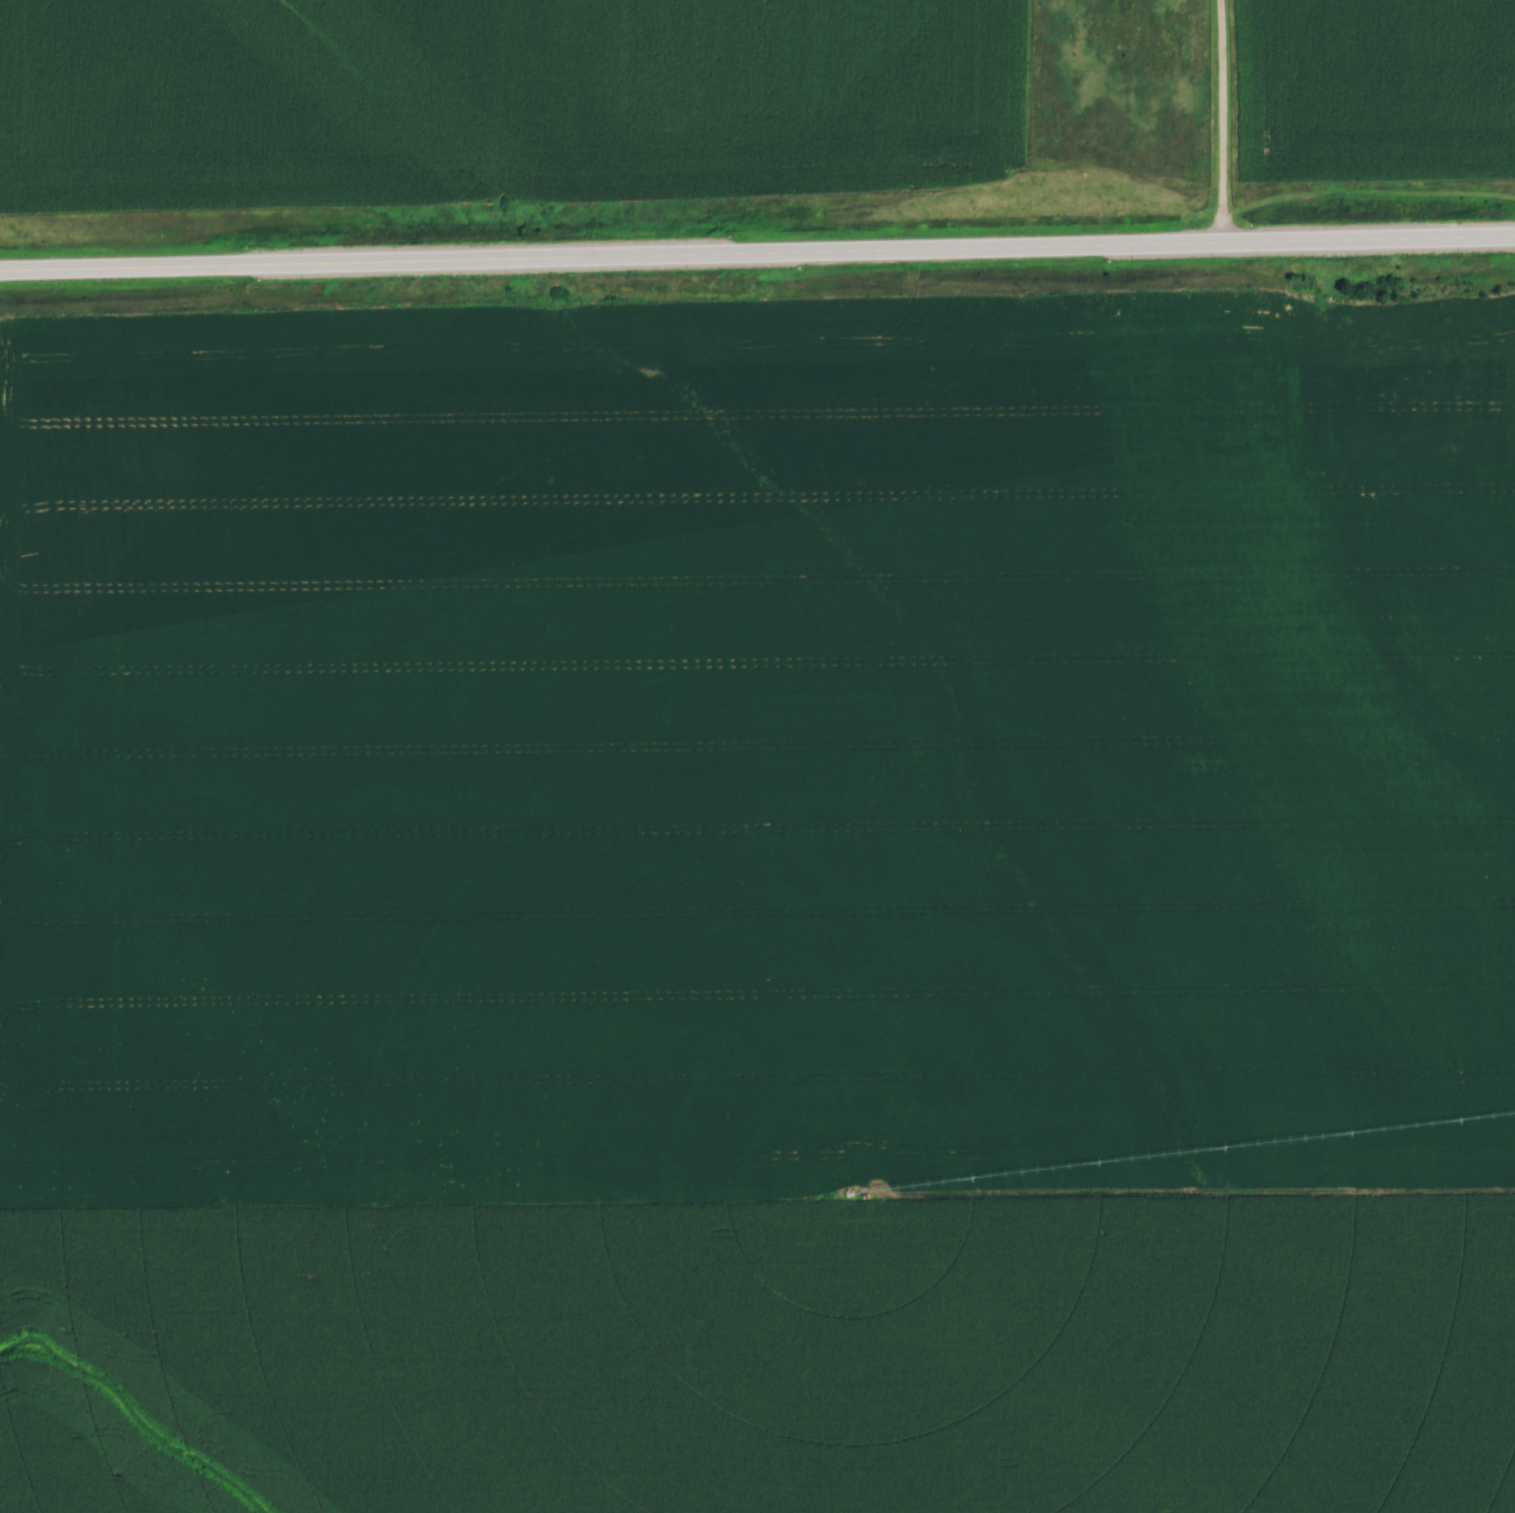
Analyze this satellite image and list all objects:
road: (1219, 121)
road: (757, 255)

